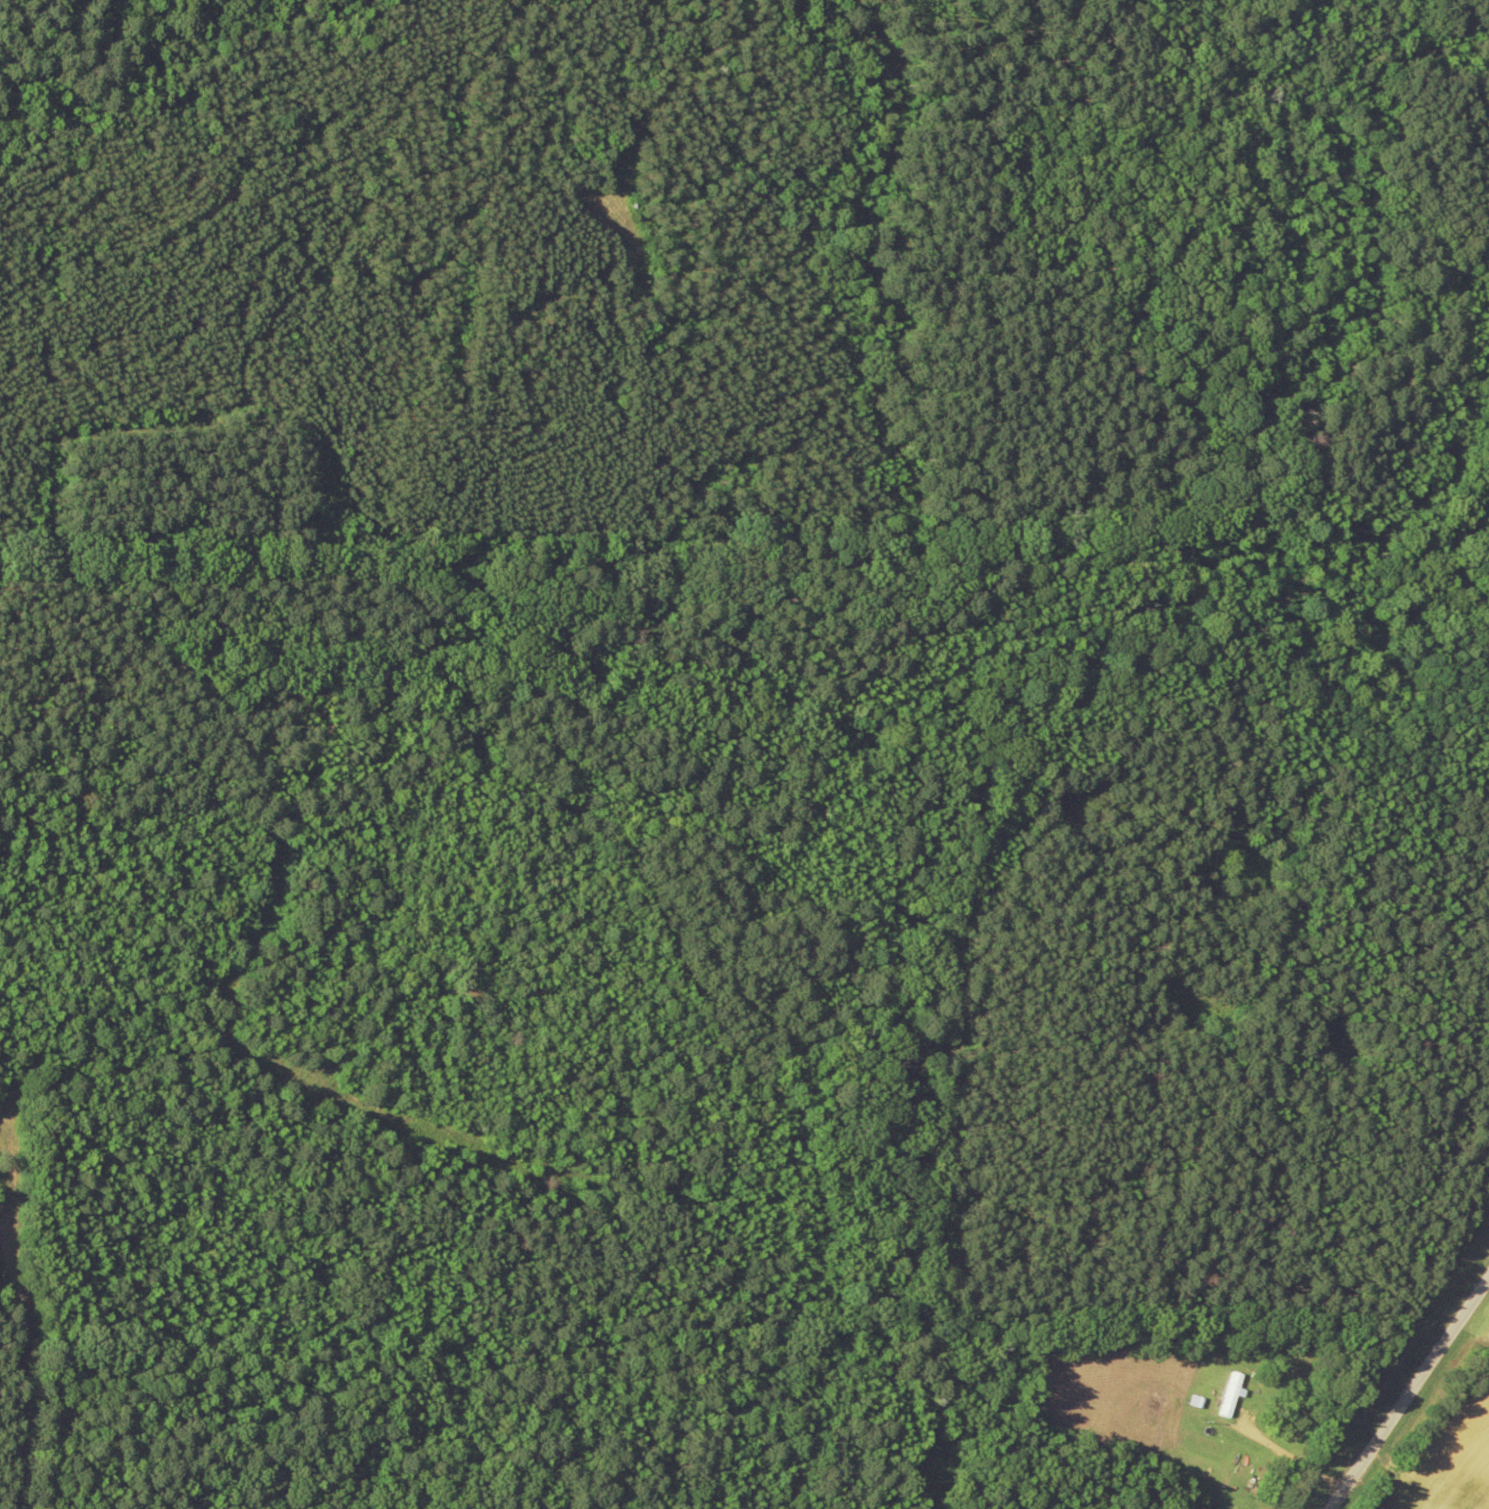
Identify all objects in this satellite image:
road: (1391, 1367)

